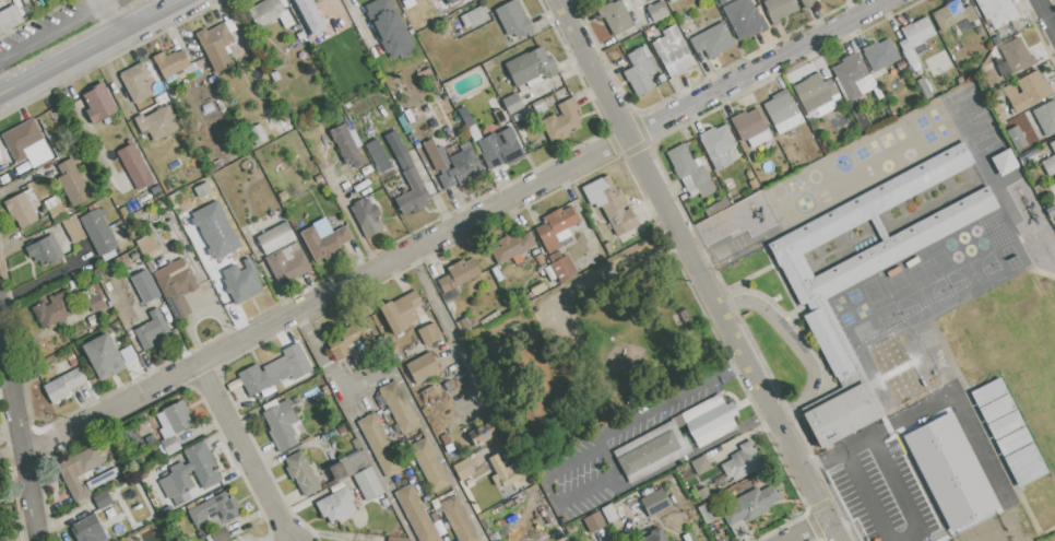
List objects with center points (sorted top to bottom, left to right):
building: (672, 1)
road: (106, 2)
building: (413, 3)
building: (807, 3)
building: (301, 7)
building: (779, 9)
building: (656, 11)
building: (996, 11)
building: (270, 13)
building: (616, 15)
building: (956, 15)
road: (110, 16)
road: (1045, 16)
building: (475, 17)
building: (9, 19)
building: (744, 19)
building: (325, 20)
road: (359, 21)
building: (510, 21)
building: (388, 27)
road: (51, 32)
building: (649, 33)
building: (1006, 33)
building: (300, 35)
building: (915, 35)
building: (996, 39)
building: (713, 40)
building: (220, 44)
road: (87, 46)
building: (673, 52)
building: (880, 57)
building: (1013, 58)
building: (174, 63)
building: (490, 64)
building: (531, 67)
road: (759, 68)
building: (640, 70)
building: (275, 75)
building: (425, 75)
building: (661, 78)
building: (855, 78)
building: (135, 82)
building: (396, 85)
building: (555, 89)
building: (815, 92)
building: (1026, 92)
building: (926, 93)
building: (99, 103)
building: (512, 103)
building: (143, 104)
building: (538, 107)
building: (270, 111)
building: (525, 111)
building: (782, 111)
building: (499, 116)
building: (858, 116)
building: (518, 117)
building: (1046, 118)
building: (561, 121)
building: (158, 122)
building: (750, 128)
building: (472, 130)
building: (258, 134)
building: (1017, 138)
building: (26, 144)
building: (1053, 145)
building: (346, 146)
building: (718, 146)
building: (500, 148)
building: (1042, 148)
building: (149, 152)
road: (637, 154)
building: (377, 155)
building: (1028, 157)
building: (0, 158)
building: (1005, 163)
building: (454, 165)
building: (1050, 165)
building: (134, 167)
building: (17, 173)
building: (689, 174)
building: (749, 175)
building: (1054, 178)
building: (318, 179)
building: (72, 183)
building: (754, 183)
building: (390, 187)
building: (410, 187)
building: (155, 190)
building: (283, 196)
building: (611, 203)
building: (127, 204)
building: (716, 207)
building: (23, 208)
building: (1051, 210)
building: (57, 212)
building: (365, 214)
building: (737, 220)
road: (351, 222)
building: (556, 227)
building: (73, 228)
building: (98, 232)
building: (239, 234)
building: (275, 238)
building: (324, 239)
building: (147, 245)
building: (511, 246)
building: (45, 251)
building: (134, 256)
building: (206, 257)
building: (540, 259)
building: (872, 260)
building: (161, 262)
building: (288, 263)
building: (151, 267)
building: (561, 267)
building: (543, 272)
building: (550, 273)
building: (459, 275)
road: (46, 277)
building: (242, 281)
building: (144, 286)
building: (176, 286)
building: (537, 289)
road: (325, 295)
building: (95, 302)
building: (54, 309)
building: (400, 311)
building: (92, 320)
building: (463, 324)
building: (153, 331)
building: (429, 333)
building: (347, 340)
road: (453, 341)
road: (796, 343)
road: (317, 351)
building: (490, 351)
building: (128, 354)
building: (103, 356)
park: (613, 358)
building: (73, 362)
road: (731, 365)
building: (423, 367)
road: (379, 372)
building: (897, 372)
building: (263, 377)
building: (287, 381)
building: (63, 385)
building: (235, 385)
park: (1011, 387)
building: (987, 391)
building: (271, 397)
road: (657, 405)
building: (399, 408)
building: (995, 408)
building: (843, 413)
road: (964, 415)
building: (534, 419)
road: (896, 419)
building: (174, 420)
building: (711, 420)
building: (1004, 424)
building: (282, 425)
road: (778, 425)
building: (343, 430)
building: (482, 433)
road: (19, 435)
building: (444, 438)
building: (150, 439)
building: (1011, 440)
building: (380, 444)
building: (170, 445)
building: (449, 447)
road: (696, 450)
road: (242, 451)
building: (649, 452)
building: (906, 459)
building: (742, 461)
road: (608, 462)
building: (429, 464)
building: (700, 464)
building: (1024, 464)
building: (349, 466)
building: (463, 468)
building: (79, 471)
building: (502, 472)
building: (206, 473)
building: (301, 473)
road: (853, 475)
building: (102, 479)
building: (368, 483)
building: (466, 483)
road: (550, 492)
building: (702, 493)
building: (103, 499)
building: (655, 503)
building: (336, 505)
building: (751, 505)
building: (215, 509)
building: (708, 511)
building: (609, 513)
building: (416, 514)
building: (459, 519)
building: (593, 521)
building: (88, 530)
road: (806, 530)
building: (0, 531)
building: (221, 534)
building: (556, 534)
building: (656, 536)
building: (1, 539)
building: (395, 539)

